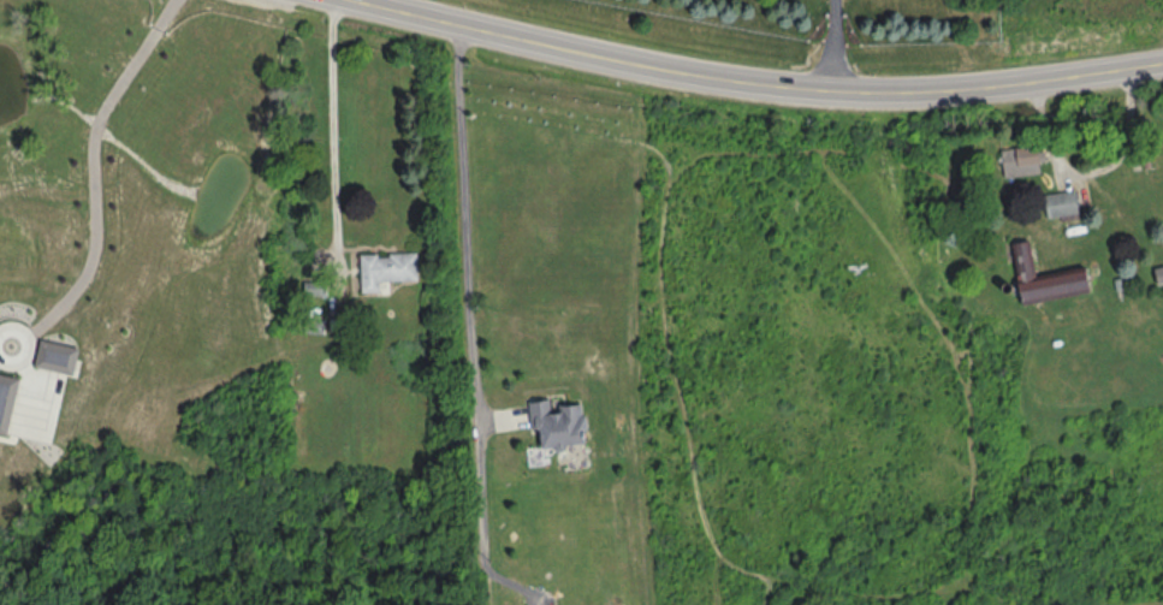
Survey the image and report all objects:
road: (835, 43)
road: (610, 52)
road: (1001, 84)
road: (333, 130)
road: (100, 158)
building: (1021, 162)
building: (1062, 204)
road: (468, 209)
building: (387, 269)
building: (1050, 279)
building: (560, 425)

